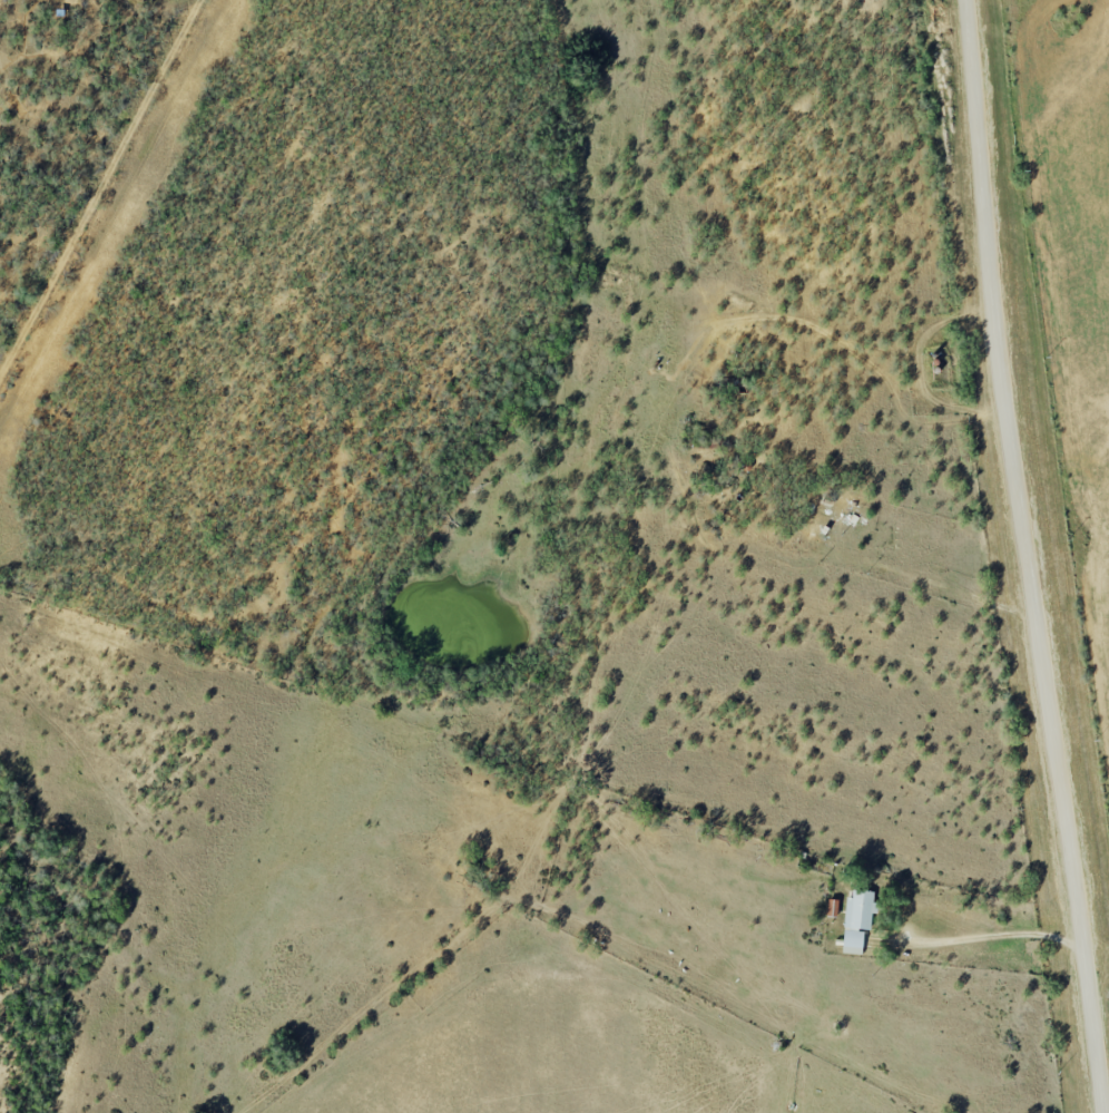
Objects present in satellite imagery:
road: (1027, 546)
road: (928, 582)
building: (833, 907)
building: (858, 919)
road: (997, 935)

